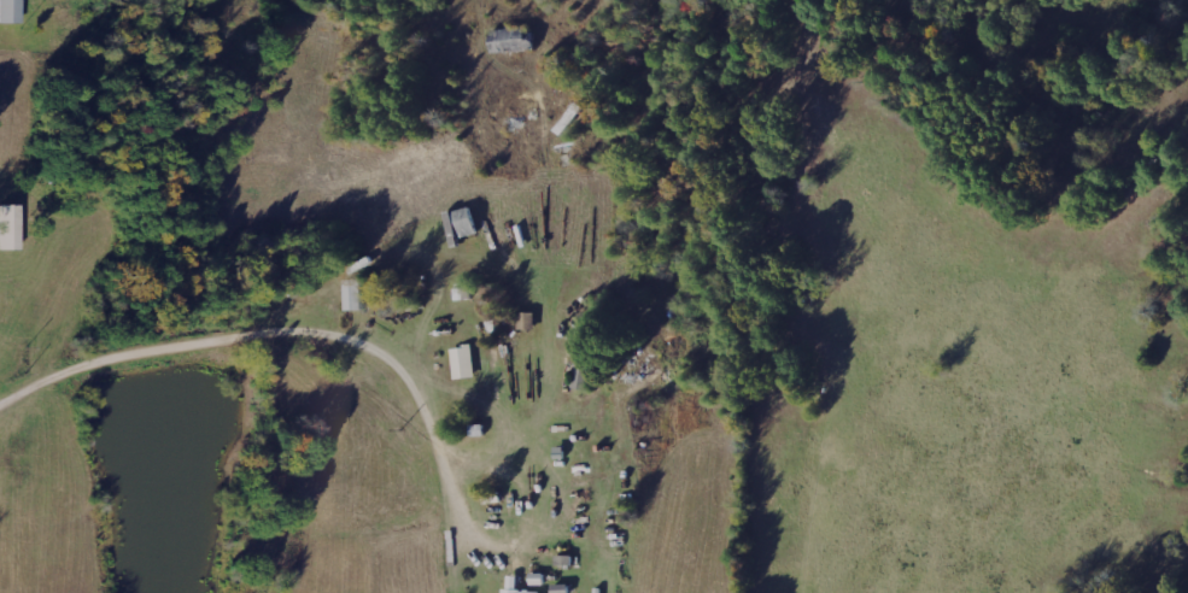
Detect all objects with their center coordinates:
building: (11, 11)
building: (470, 221)
building: (10, 227)
building: (358, 293)
road: (288, 325)
building: (466, 360)
building: (520, 586)

